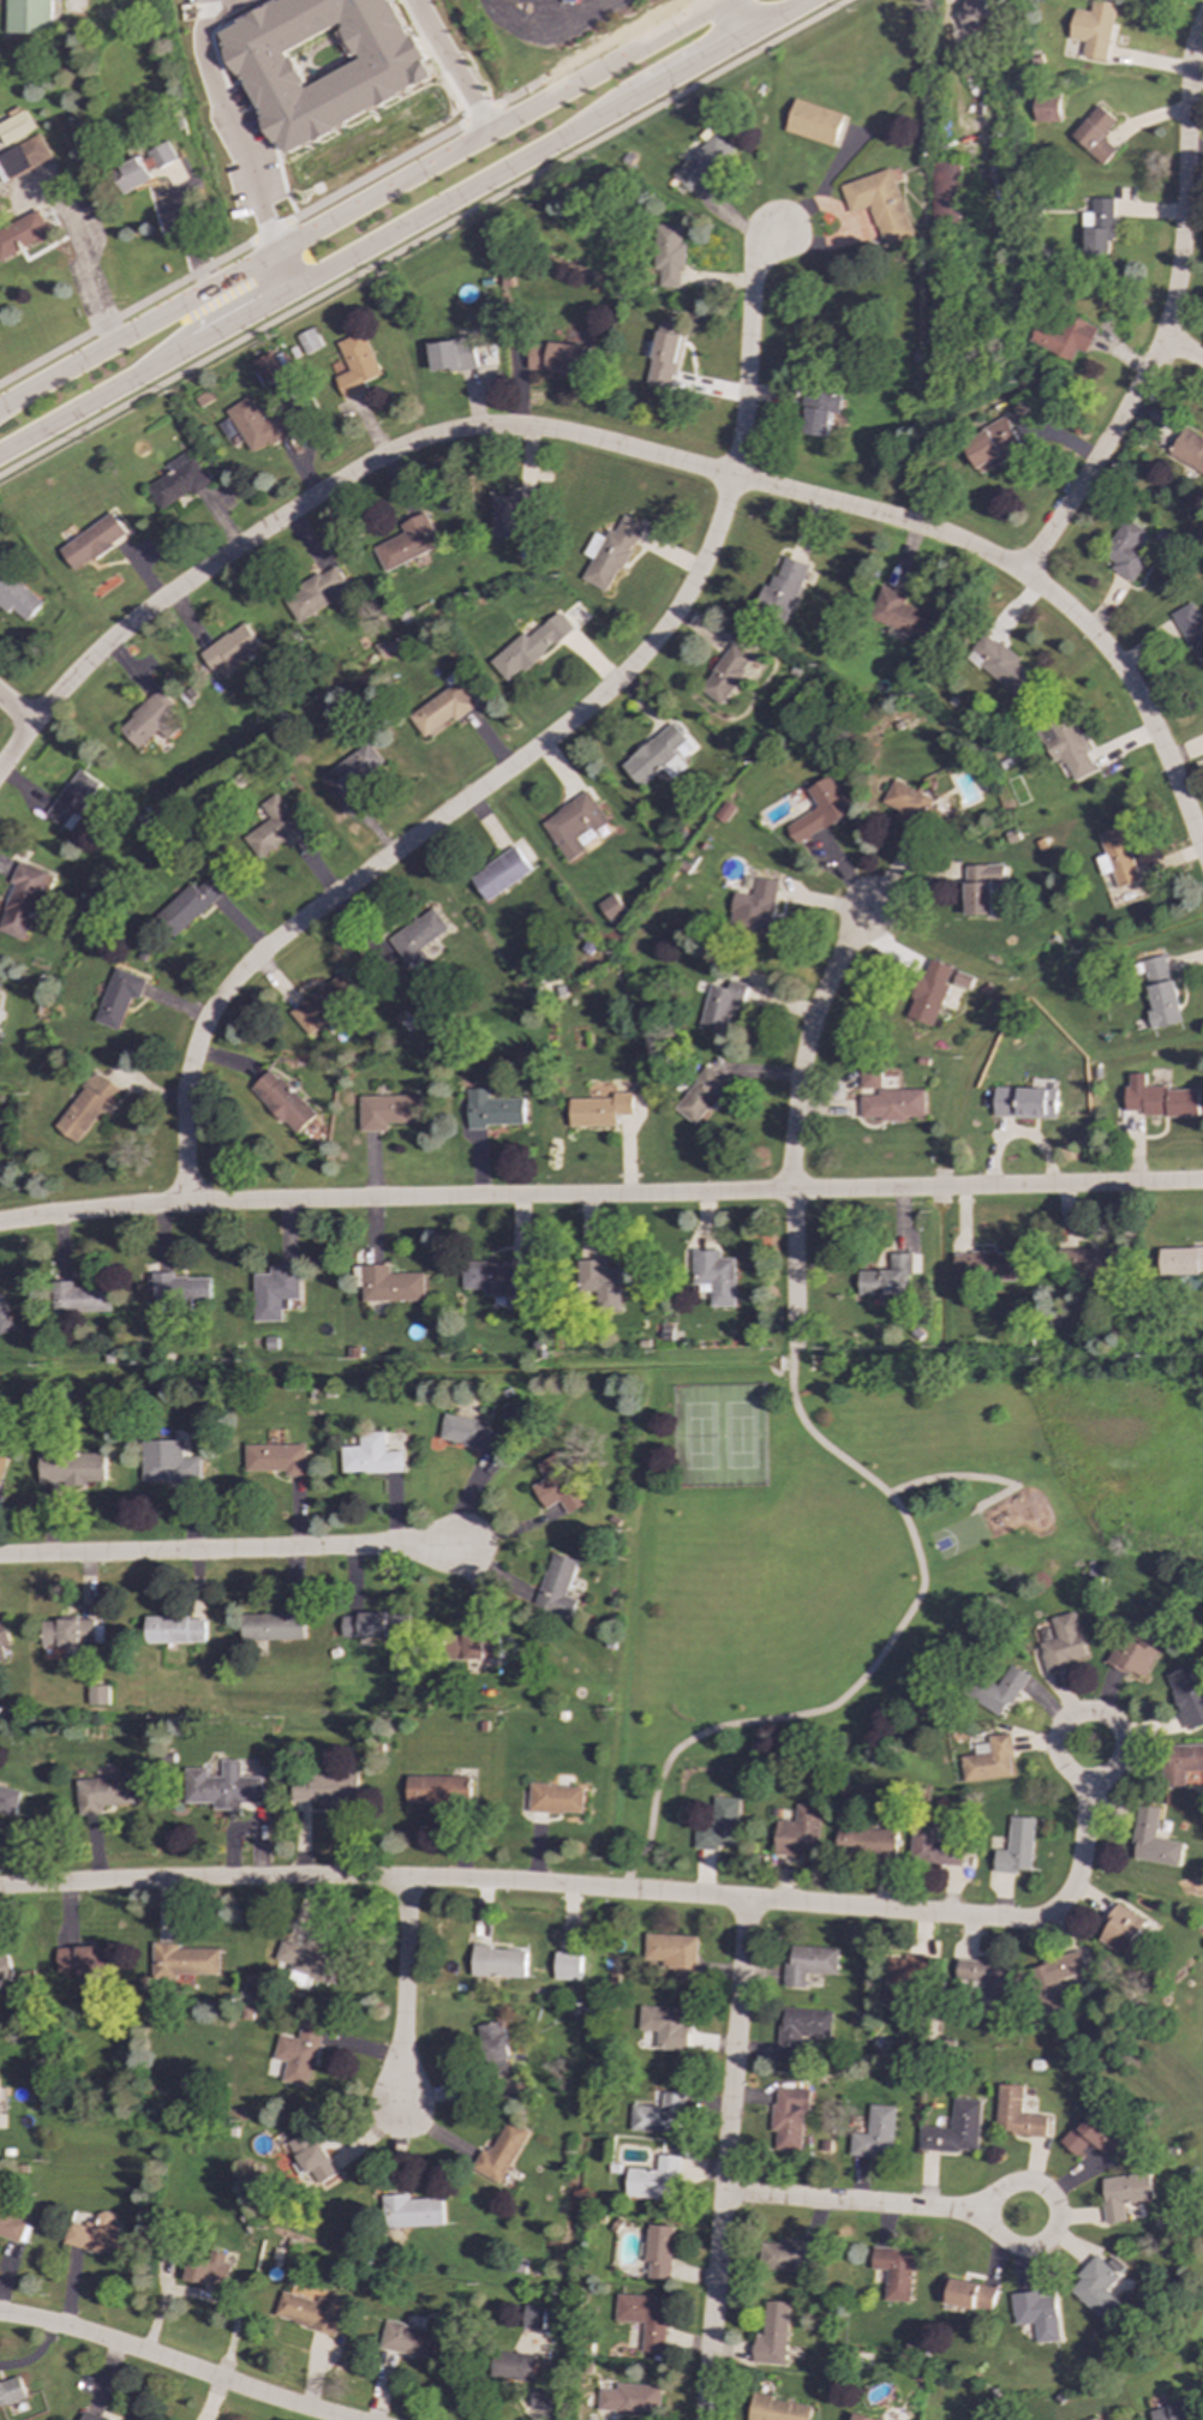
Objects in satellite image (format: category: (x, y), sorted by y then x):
building: (975, 12)
road: (734, 16)
building: (29, 17)
road: (553, 18)
building: (1093, 29)
road: (553, 36)
building: (324, 62)
road: (450, 65)
building: (1048, 109)
building: (813, 122)
road: (234, 125)
road: (497, 125)
building: (14, 127)
building: (1095, 133)
building: (22, 157)
building: (158, 157)
building: (701, 162)
building: (131, 175)
road: (339, 191)
building: (946, 193)
building: (879, 204)
road: (401, 228)
building: (1097, 228)
building: (22, 234)
road: (421, 236)
building: (668, 254)
road: (285, 270)
road: (86, 276)
road: (1168, 313)
road: (137, 328)
building: (1064, 336)
building: (306, 341)
road: (748, 348)
road: (1183, 352)
building: (665, 354)
building: (450, 355)
building: (555, 358)
building: (353, 364)
building: (265, 369)
building: (819, 412)
building: (256, 425)
building: (992, 447)
building: (1189, 449)
road: (632, 450)
building: (175, 480)
building: (509, 513)
building: (91, 541)
building: (406, 543)
building: (1125, 550)
building: (609, 553)
building: (782, 587)
building: (312, 594)
building: (16, 598)
building: (900, 613)
building: (1191, 629)
building: (528, 647)
building: (228, 651)
building: (998, 663)
building: (729, 672)
building: (441, 709)
road: (14, 712)
building: (149, 720)
building: (1066, 747)
building: (653, 754)
building: (352, 772)
building: (72, 799)
building: (904, 802)
building: (818, 811)
building: (723, 813)
building: (573, 825)
building: (273, 828)
road: (425, 829)
building: (1115, 857)
building: (498, 874)
building: (980, 887)
building: (23, 900)
building: (188, 904)
building: (610, 907)
building: (754, 907)
building: (417, 938)
building: (929, 992)
building: (1159, 993)
building: (118, 996)
building: (323, 1002)
building: (720, 1006)
road: (804, 1044)
building: (869, 1077)
building: (700, 1096)
building: (1162, 1101)
building: (282, 1102)
building: (1024, 1102)
building: (892, 1104)
building: (85, 1107)
building: (492, 1109)
building: (389, 1110)
building: (599, 1110)
road: (600, 1198)
building: (1180, 1260)
building: (1090, 1263)
building: (989, 1265)
road: (791, 1270)
building: (713, 1277)
building: (886, 1277)
building: (495, 1278)
building: (598, 1282)
building: (390, 1284)
building: (179, 1288)
building: (274, 1292)
building: (80, 1298)
building: (4, 1318)
building: (469, 1432)
building: (371, 1456)
building: (275, 1458)
building: (168, 1462)
building: (1, 1463)
building: (72, 1467)
road: (974, 1476)
building: (556, 1486)
road: (233, 1551)
building: (556, 1588)
building: (273, 1627)
building: (375, 1627)
building: (174, 1630)
building: (66, 1633)
building: (2, 1639)
building: (1063, 1643)
building: (1135, 1654)
road: (873, 1663)
building: (998, 1690)
building: (97, 1695)
building: (1186, 1695)
road: (1064, 1726)
building: (988, 1760)
building: (1180, 1762)
building: (221, 1786)
building: (325, 1787)
building: (437, 1790)
building: (102, 1793)
building: (555, 1798)
building: (8, 1801)
building: (719, 1826)
building: (797, 1832)
building: (1151, 1839)
building: (866, 1843)
building: (933, 1847)
building: (1016, 1847)
road: (597, 1888)
building: (1121, 1934)
building: (672, 1953)
building: (85, 1960)
building: (184, 1960)
building: (306, 1961)
building: (497, 1961)
building: (807, 1964)
building: (5, 1967)
building: (902, 1978)
building: (982, 1978)
building: (1053, 1979)
road: (403, 1991)
building: (664, 2026)
building: (800, 2030)
building: (493, 2049)
building: (298, 2054)
building: (1015, 2114)
building: (789, 2115)
building: (658, 2116)
building: (953, 2130)
building: (874, 2133)
building: (1091, 2136)
building: (499, 2152)
building: (311, 2156)
road: (724, 2158)
building: (653, 2180)
road: (1040, 2188)
building: (1121, 2194)
road: (854, 2204)
building: (411, 2211)
building: (11, 2224)
building: (97, 2236)
building: (659, 2252)
building: (786, 2254)
building: (207, 2269)
building: (893, 2272)
building: (1094, 2288)
building: (965, 2294)
building: (310, 2312)
building: (1036, 2314)
building: (533, 2317)
building: (645, 2318)
building: (772, 2335)
building: (407, 2341)
road: (32, 2354)
road: (168, 2364)
building: (513, 2366)
building: (11, 2392)
building: (629, 2398)
building: (539, 2400)
building: (777, 2409)
building: (1174, 2412)
building: (89, 2418)
building: (860, 2418)
building: (1093, 2419)

